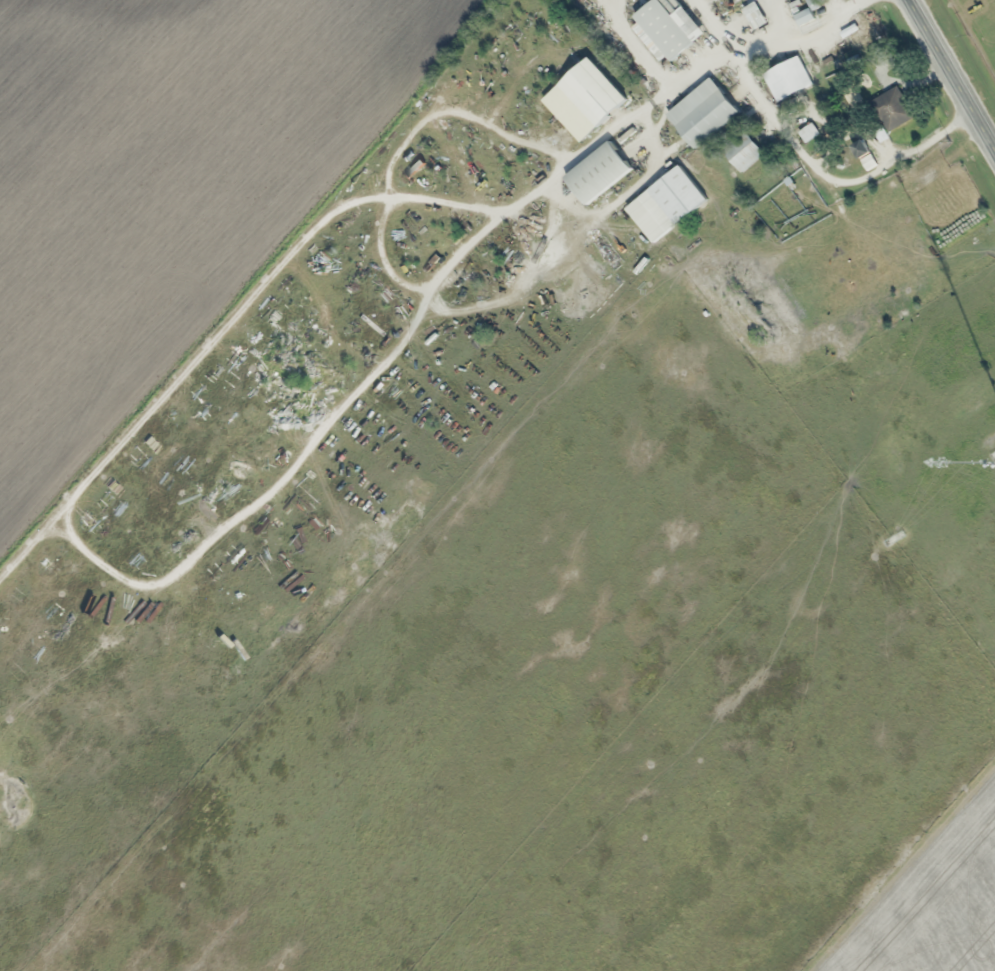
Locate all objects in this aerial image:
building: (754, 16)
building: (803, 17)
building: (667, 26)
road: (951, 76)
building: (786, 79)
road: (710, 85)
building: (591, 92)
building: (892, 109)
building: (701, 114)
building: (857, 147)
building: (742, 153)
building: (596, 174)
building: (676, 195)

